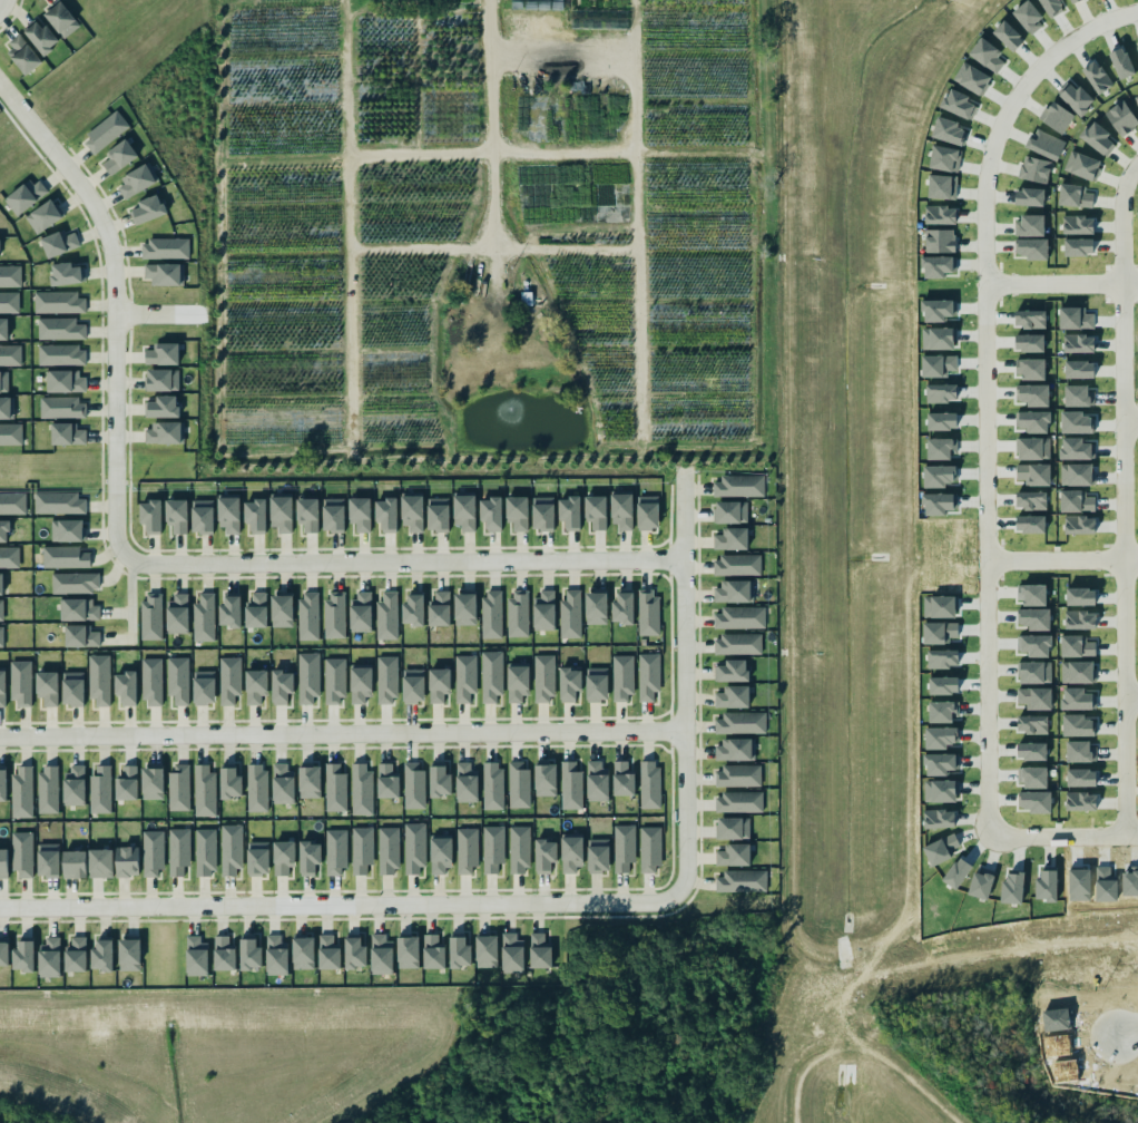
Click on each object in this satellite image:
building: (1072, 1)
road: (2, 4)
building: (1051, 7)
building: (1028, 17)
building: (61, 19)
building: (1008, 36)
building: (40, 37)
building: (1137, 48)
building: (23, 55)
building: (987, 55)
building: (1121, 62)
building: (1096, 77)
building: (972, 78)
building: (1077, 98)
building: (1136, 99)
building: (958, 102)
building: (1057, 117)
building: (1121, 117)
road: (493, 123)
building: (948, 130)
building: (105, 131)
building: (1096, 137)
building: (1044, 144)
building: (118, 156)
building: (944, 158)
building: (1083, 165)
building: (1034, 168)
building: (137, 179)
building: (942, 186)
building: (1073, 195)
building: (24, 196)
building: (1029, 196)
building: (147, 208)
building: (939, 214)
building: (43, 215)
building: (1030, 224)
building: (1078, 224)
crop: (491, 231)
building: (939, 240)
building: (58, 243)
building: (1078, 246)
building: (164, 247)
building: (1031, 247)
building: (936, 266)
building: (66, 273)
building: (163, 274)
building: (10, 275)
road: (1061, 285)
building: (9, 302)
building: (58, 302)
road: (112, 304)
road: (158, 314)
building: (1029, 318)
building: (1075, 318)
building: (3, 329)
building: (59, 329)
building: (1029, 342)
building: (1077, 343)
building: (161, 353)
building: (10, 354)
building: (61, 354)
building: (1032, 369)
building: (1079, 369)
building: (163, 380)
building: (3, 381)
building: (66, 381)
building: (1032, 394)
building: (1079, 396)
building: (161, 407)
building: (6, 408)
building: (61, 408)
building: (1033, 420)
road: (1131, 421)
building: (1076, 422)
building: (163, 432)
building: (10, 433)
building: (66, 433)
building: (1033, 448)
building: (1075, 448)
road: (984, 456)
building: (1032, 473)
building: (1077, 473)
building: (738, 486)
road: (1125, 498)
building: (1030, 500)
building: (1076, 501)
building: (12, 502)
building: (59, 502)
building: (620, 510)
building: (463, 511)
building: (517, 511)
building: (596, 511)
building: (730, 511)
building: (281, 512)
building: (412, 512)
building: (490, 512)
building: (542, 512)
building: (569, 512)
building: (647, 512)
building: (307, 514)
building: (333, 514)
building: (360, 514)
building: (386, 514)
building: (438, 514)
building: (176, 515)
building: (228, 515)
building: (150, 516)
building: (202, 516)
building: (255, 516)
building: (1030, 524)
building: (1079, 525)
building: (3, 529)
building: (67, 530)
building: (729, 538)
building: (9, 556)
building: (63, 557)
road: (1061, 557)
road: (399, 561)
building: (736, 565)
building: (75, 583)
building: (1, 584)
building: (732, 592)
building: (1033, 594)
building: (1080, 595)
road: (133, 604)
building: (595, 607)
building: (622, 607)
building: (79, 608)
building: (412, 608)
building: (439, 608)
building: (464, 608)
building: (1, 609)
building: (543, 609)
building: (255, 611)
building: (282, 611)
building: (229, 612)
building: (360, 612)
building: (647, 612)
building: (491, 613)
building: (517, 613)
building: (176, 614)
building: (334, 614)
building: (569, 614)
building: (307, 615)
building: (386, 616)
building: (150, 617)
building: (203, 617)
building: (739, 617)
building: (1033, 617)
building: (1079, 619)
building: (1, 636)
building: (80, 636)
building: (737, 644)
building: (1034, 645)
building: (1077, 645)
building: (730, 670)
building: (1034, 672)
building: (1078, 672)
building: (648, 675)
building: (307, 676)
building: (490, 676)
building: (465, 677)
building: (621, 677)
building: (543, 678)
road: (680, 678)
building: (98, 680)
building: (177, 680)
building: (228, 680)
building: (333, 680)
building: (385, 680)
building: (151, 681)
building: (517, 682)
building: (19, 683)
building: (360, 683)
building: (439, 684)
building: (569, 684)
building: (596, 684)
building: (2, 685)
building: (255, 685)
building: (281, 685)
building: (413, 685)
building: (204, 686)
building: (47, 687)
building: (125, 687)
building: (72, 689)
building: (732, 696)
building: (1034, 697)
building: (1077, 699)
road: (1131, 700)
building: (739, 722)
building: (1031, 723)
building: (1078, 725)
road: (340, 733)
building: (734, 749)
building: (1031, 751)
building: (1080, 751)
building: (737, 775)
building: (1033, 777)
building: (1080, 777)
building: (545, 779)
building: (622, 779)
building: (439, 780)
building: (596, 780)
building: (229, 781)
building: (386, 781)
building: (465, 781)
building: (151, 782)
building: (282, 782)
building: (308, 782)
building: (2, 783)
building: (126, 783)
building: (518, 783)
building: (649, 783)
building: (73, 784)
building: (413, 784)
building: (492, 784)
building: (570, 785)
building: (178, 787)
building: (256, 787)
building: (334, 788)
building: (47, 789)
building: (361, 789)
building: (99, 790)
building: (203, 790)
building: (21, 791)
building: (1034, 801)
building: (1079, 801)
building: (738, 802)
building: (733, 828)
building: (413, 847)
building: (624, 847)
building: (492, 848)
building: (229, 849)
building: (361, 849)
building: (519, 849)
building: (649, 849)
building: (387, 850)
building: (465, 850)
building: (177, 851)
building: (335, 851)
building: (204, 852)
building: (21, 853)
building: (151, 853)
building: (570, 853)
building: (732, 853)
building: (440, 855)
building: (545, 855)
building: (598, 855)
building: (283, 856)
building: (257, 858)
building: (308, 858)
building: (48, 860)
building: (127, 860)
building: (3, 862)
building: (100, 862)
building: (72, 863)
building: (742, 880)
road: (341, 905)
building: (484, 951)
building: (537, 951)
building: (2, 953)
building: (405, 953)
building: (457, 953)
building: (301, 954)
building: (326, 954)
building: (353, 954)
building: (431, 954)
building: (509, 954)
building: (128, 955)
building: (223, 955)
building: (248, 956)
building: (274, 956)
building: (379, 956)
building: (22, 957)
building: (73, 957)
building: (100, 957)
building: (196, 957)
building: (47, 958)
road: (1127, 1034)

